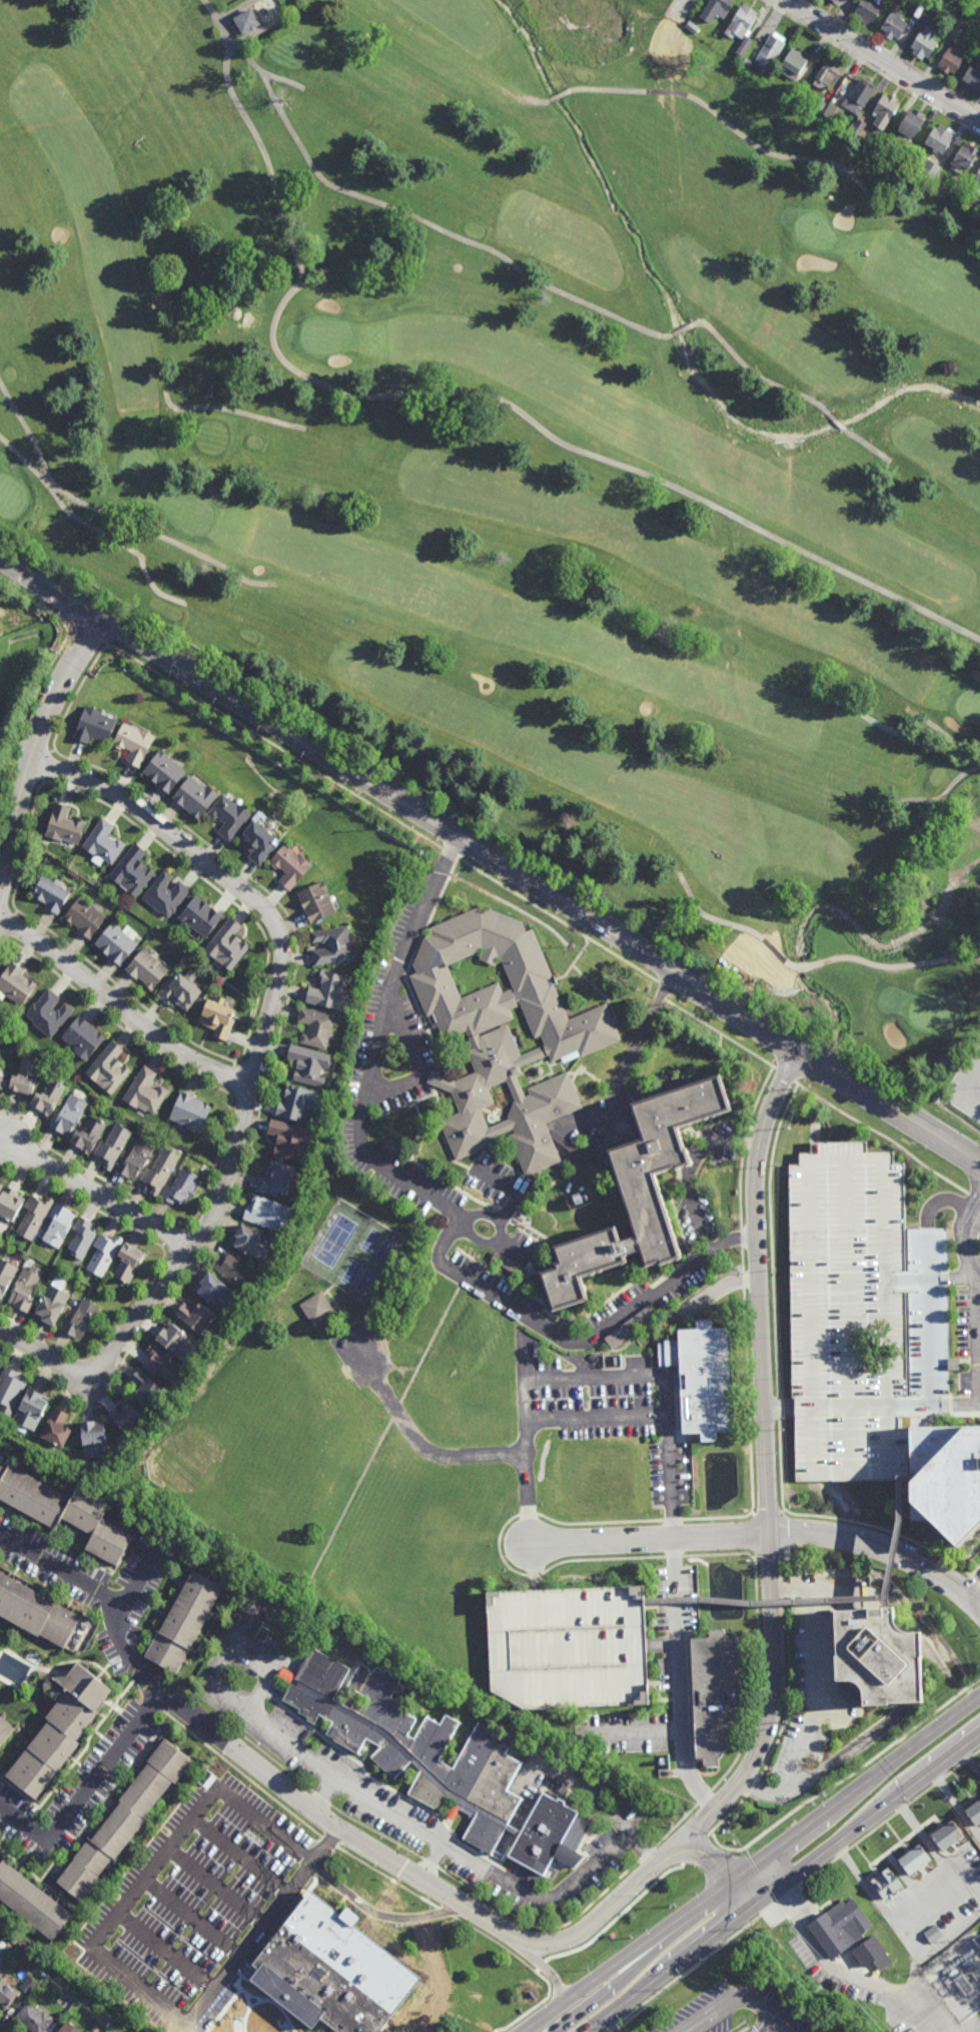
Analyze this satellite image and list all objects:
building: (835, 1)
building: (936, 4)
building: (716, 9)
building: (868, 10)
building: (247, 19)
building: (741, 23)
building: (692, 25)
building: (960, 25)
building: (894, 26)
building: (924, 43)
building: (744, 45)
building: (770, 52)
road: (894, 53)
road: (883, 60)
building: (952, 60)
building: (747, 62)
building: (795, 62)
road: (870, 67)
building: (829, 73)
building: (971, 77)
building: (863, 93)
road: (559, 95)
road: (534, 100)
building: (833, 111)
building: (885, 112)
road: (717, 114)
building: (909, 125)
building: (858, 127)
building: (939, 140)
building: (902, 154)
building: (965, 157)
building: (927, 168)
building: (977, 182)
road: (422, 220)
road: (682, 329)
road: (458, 388)
building: (209, 390)
road: (789, 390)
road: (229, 410)
park: (537, 442)
road: (51, 579)
road: (98, 638)
road: (76, 658)
road: (75, 696)
road: (25, 723)
building: (94, 727)
road: (897, 732)
building: (132, 742)
road: (36, 743)
road: (271, 745)
road: (34, 746)
road: (52, 750)
road: (46, 764)
building: (163, 772)
road: (24, 775)
road: (43, 781)
road: (951, 784)
building: (194, 798)
building: (227, 816)
building: (63, 827)
building: (257, 843)
building: (103, 844)
road: (26, 847)
road: (450, 853)
building: (289, 868)
building: (131, 871)
road: (543, 882)
road: (216, 888)
road: (7, 895)
building: (51, 895)
building: (166, 895)
building: (316, 903)
road: (16, 912)
building: (199, 917)
building: (84, 919)
road: (558, 920)
road: (12, 925)
road: (8, 938)
road: (3, 941)
building: (115, 945)
building: (227, 947)
building: (331, 947)
road: (810, 964)
building: (147, 970)
building: (15, 986)
road: (123, 990)
road: (662, 991)
building: (329, 994)
building: (180, 995)
road: (121, 1009)
building: (48, 1015)
road: (114, 1022)
building: (218, 1022)
building: (315, 1029)
road: (721, 1034)
building: (503, 1035)
building: (83, 1040)
road: (633, 1055)
road: (258, 1059)
road: (417, 1063)
road: (234, 1064)
building: (308, 1065)
building: (940, 1067)
road: (256, 1069)
building: (108, 1072)
road: (787, 1076)
road: (232, 1078)
building: (24, 1079)
road: (370, 1080)
building: (1, 1086)
road: (969, 1088)
road: (229, 1091)
building: (144, 1094)
road: (760, 1096)
road: (263, 1098)
building: (48, 1099)
building: (297, 1105)
road: (246, 1107)
building: (189, 1115)
building: (68, 1116)
building: (88, 1137)
road: (747, 1137)
road: (885, 1137)
building: (288, 1141)
building: (112, 1148)
building: (133, 1162)
road: (846, 1163)
road: (215, 1165)
road: (86, 1170)
building: (160, 1171)
road: (692, 1173)
building: (275, 1181)
road: (740, 1187)
building: (1, 1188)
building: (179, 1189)
building: (637, 1190)
road: (99, 1194)
road: (517, 1197)
road: (974, 1197)
road: (82, 1203)
building: (9, 1204)
road: (942, 1205)
building: (267, 1214)
building: (34, 1217)
building: (58, 1226)
road: (180, 1226)
road: (205, 1231)
road: (172, 1235)
road: (772, 1238)
road: (742, 1239)
building: (81, 1240)
building: (251, 1244)
road: (164, 1245)
building: (104, 1255)
road: (743, 1260)
building: (130, 1262)
building: (507, 1264)
road: (178, 1265)
building: (237, 1274)
building: (6, 1277)
road: (929, 1279)
road: (978, 1279)
road: (744, 1281)
building: (24, 1291)
building: (215, 1294)
building: (51, 1306)
building: (317, 1308)
road: (686, 1315)
building: (195, 1318)
road: (848, 1319)
parking lot: (862, 1319)
building: (80, 1321)
road: (928, 1323)
building: (631, 1325)
road: (99, 1339)
parking lot: (969, 1339)
road: (575, 1340)
building: (175, 1342)
road: (978, 1348)
building: (165, 1366)
building: (700, 1377)
road: (592, 1379)
building: (144, 1389)
building: (9, 1390)
road: (748, 1400)
road: (979, 1406)
road: (779, 1408)
building: (30, 1410)
road: (778, 1411)
building: (125, 1418)
building: (55, 1429)
building: (92, 1440)
road: (448, 1458)
road: (372, 1461)
road: (781, 1465)
road: (816, 1473)
building: (945, 1481)
building: (63, 1511)
road: (784, 1512)
road: (754, 1514)
road: (529, 1515)
road: (769, 1515)
road: (717, 1518)
road: (672, 1521)
road: (600, 1523)
road: (883, 1529)
road: (764, 1534)
road: (756, 1535)
road: (786, 1535)
road: (893, 1536)
road: (499, 1546)
road: (718, 1555)
road: (773, 1555)
road: (754, 1556)
road: (674, 1557)
road: (602, 1559)
road: (786, 1569)
road: (532, 1570)
road: (532, 1575)
road: (134, 1580)
road: (975, 1580)
road: (971, 1583)
road: (813, 1588)
road: (787, 1593)
road: (977, 1599)
road: (762, 1603)
building: (34, 1613)
building: (184, 1622)
building: (268, 1636)
road: (664, 1643)
building: (567, 1647)
parking lot: (571, 1648)
road: (118, 1657)
building: (876, 1657)
road: (136, 1679)
road: (682, 1679)
road: (111, 1681)
road: (760, 1681)
road: (160, 1692)
road: (142, 1693)
building: (716, 1694)
road: (817, 1694)
road: (789, 1695)
road: (171, 1700)
road: (241, 1705)
road: (112, 1706)
road: (159, 1709)
building: (4, 1732)
building: (58, 1733)
road: (632, 1733)
road: (290, 1742)
road: (87, 1747)
road: (235, 1750)
road: (754, 1758)
road: (971, 1761)
road: (279, 1765)
building: (438, 1765)
road: (829, 1767)
road: (242, 1776)
road: (846, 1778)
road: (754, 1788)
road: (19, 1792)
road: (326, 1794)
road: (705, 1798)
road: (321, 1800)
road: (956, 1803)
road: (603, 1805)
road: (690, 1813)
road: (28, 1814)
building: (975, 1814)
road: (731, 1815)
building: (124, 1819)
road: (13, 1827)
road: (697, 1827)
road: (870, 1833)
road: (377, 1834)
road: (668, 1834)
building: (947, 1835)
road: (925, 1837)
road: (3, 1839)
road: (60, 1841)
road: (37, 1842)
road: (329, 1843)
road: (244, 1853)
road: (647, 1854)
building: (914, 1857)
road: (784, 1858)
road: (24, 1859)
road: (431, 1865)
road: (156, 1866)
road: (755, 1866)
road: (52, 1867)
road: (482, 1868)
road: (722, 1869)
road: (388, 1878)
road: (38, 1880)
road: (783, 1883)
road: (219, 1884)
road: (863, 1884)
building: (885, 1884)
building: (31, 1900)
road: (488, 1900)
road: (593, 1903)
road: (446, 1913)
road: (381, 1916)
road: (193, 1918)
road: (899, 1923)
building: (838, 1928)
road: (261, 1930)
building: (933, 1934)
building: (7, 1937)
road: (528, 1943)
building: (6, 1949)
road: (505, 1949)
road: (167, 1953)
building: (872, 1953)
road: (746, 1955)
road: (546, 1966)
road: (854, 1972)
road: (916, 1972)
road: (684, 1973)
building: (326, 1976)
power substation: (959, 1979)
building: (28, 1983)
building: (836, 1988)
building: (76, 1990)
road: (606, 1993)
building: (6, 1994)
road: (521, 2007)
road: (721, 2008)
building: (107, 2016)
road: (766, 2018)
road: (774, 2018)
building: (33, 2019)
road: (602, 2026)
road: (700, 2027)
road: (738, 2027)
building: (67, 2028)
building: (96, 2028)
road: (746, 2030)
road: (786, 2031)

